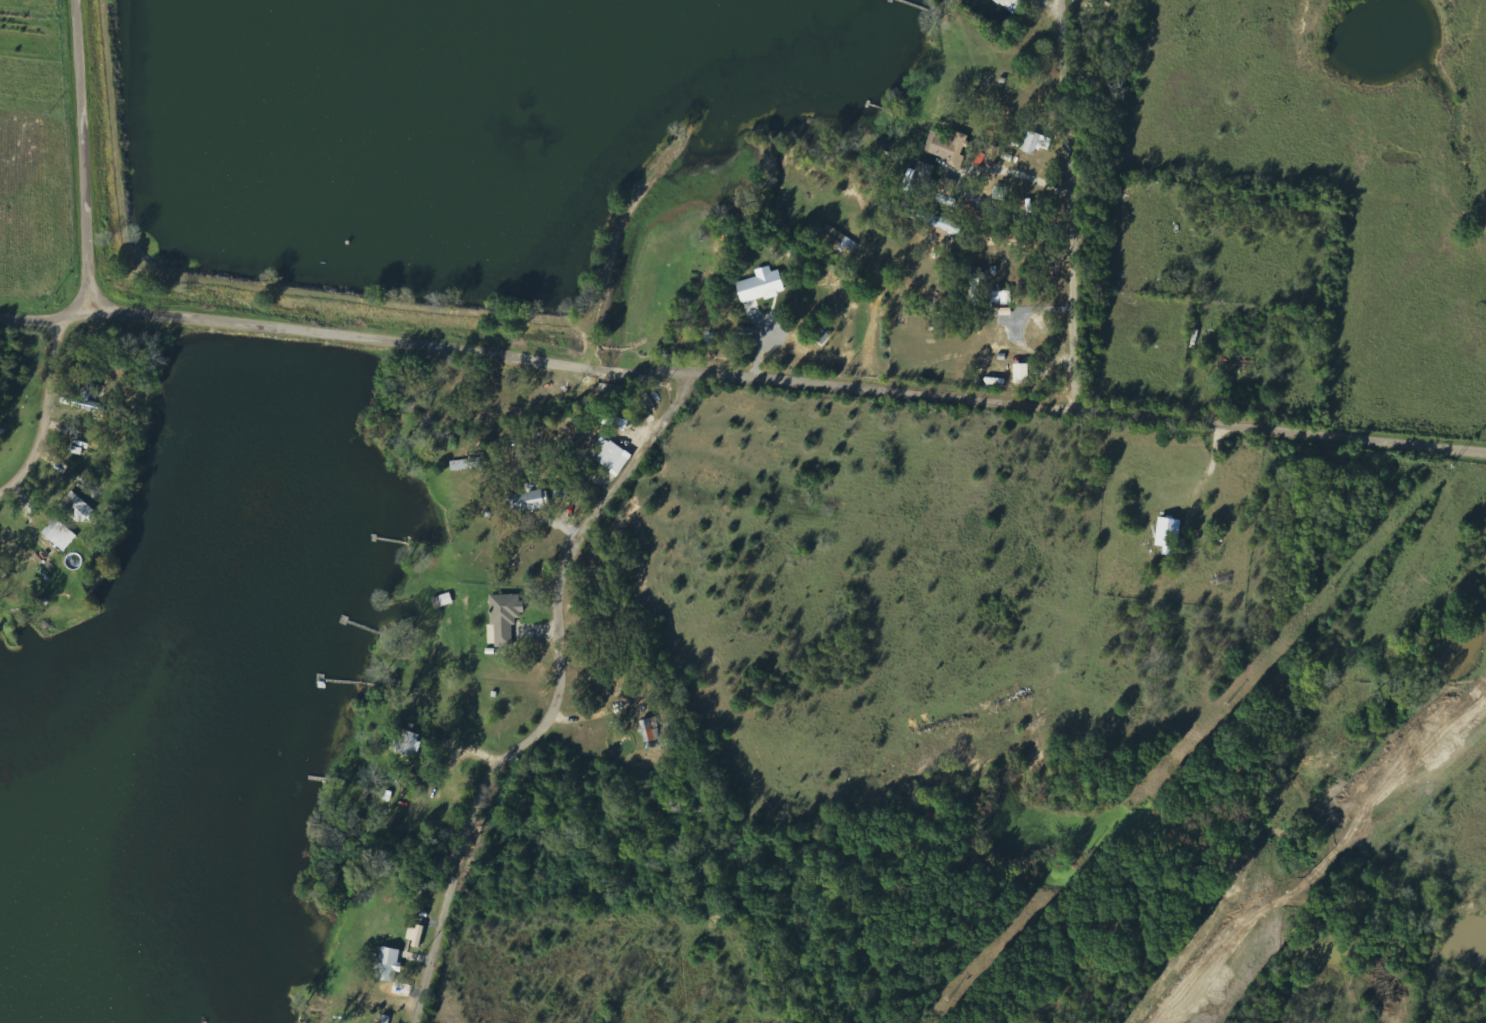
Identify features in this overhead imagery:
building: (1011, 5)
road: (140, 6)
road: (939, 138)
building: (1036, 143)
road: (56, 145)
building: (949, 145)
building: (919, 180)
road: (1065, 202)
building: (940, 223)
building: (763, 285)
building: (1002, 297)
road: (32, 307)
building: (1023, 373)
road: (773, 378)
road: (24, 390)
building: (92, 400)
building: (618, 422)
building: (614, 456)
building: (534, 501)
building: (79, 507)
building: (61, 534)
building: (1170, 534)
building: (444, 600)
building: (505, 617)
road: (553, 695)
building: (652, 731)
building: (416, 936)
building: (389, 964)

